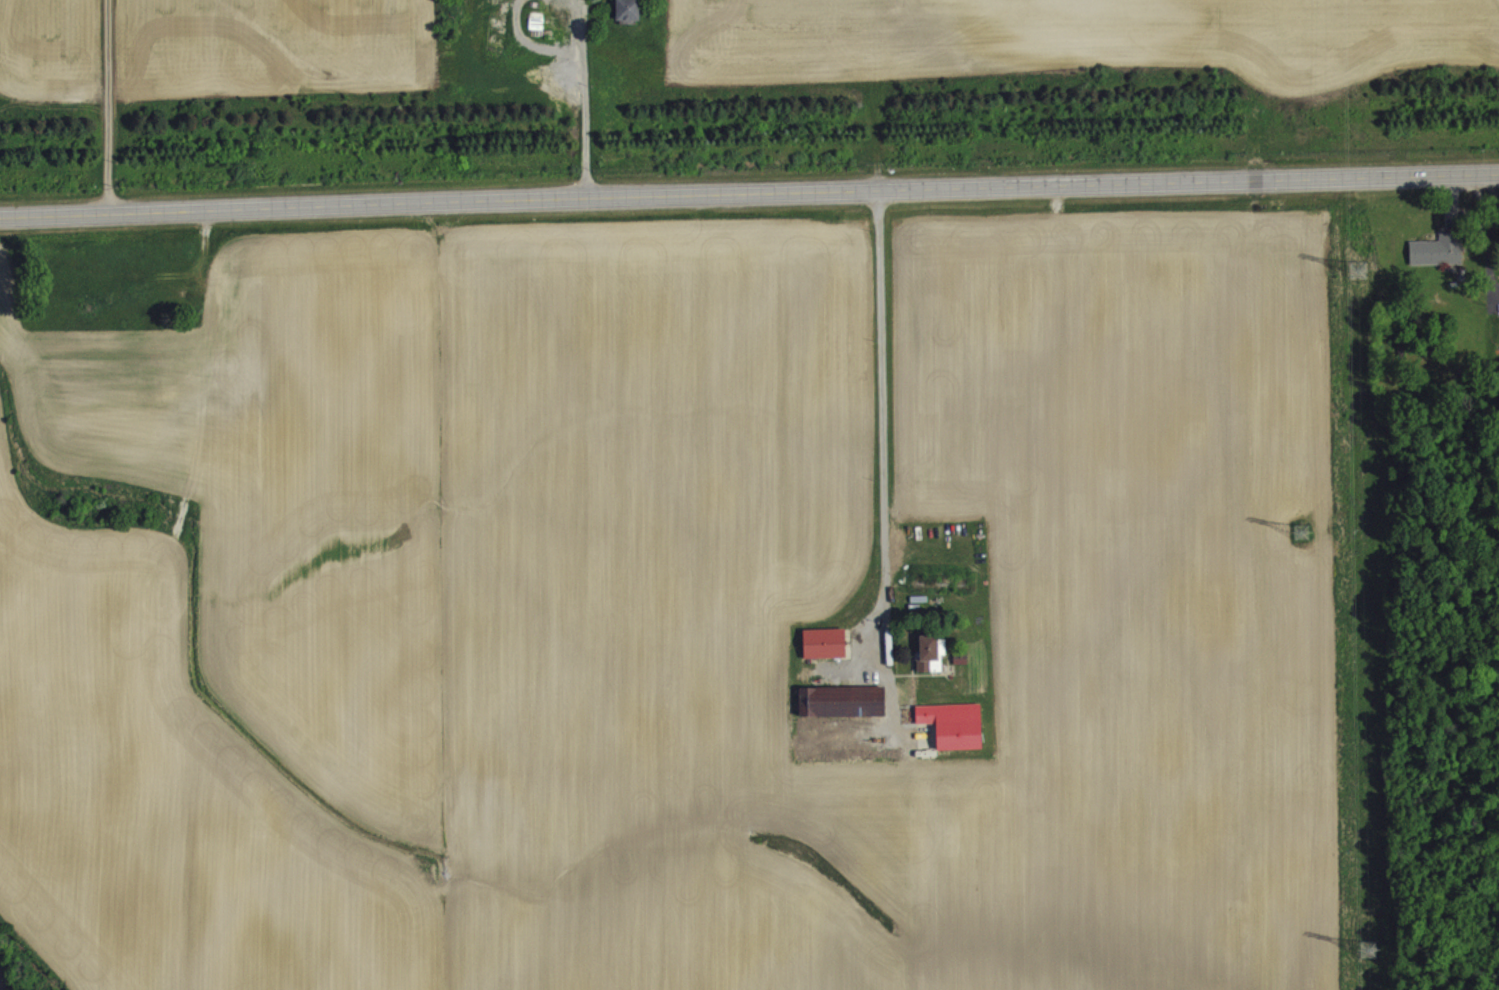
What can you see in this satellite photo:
building: (506, 1)
building: (629, 19)
road: (586, 98)
road: (108, 106)
road: (749, 195)
building: (1438, 261)
power tower: (1364, 265)
road: (883, 422)
power tower: (1307, 529)
building: (825, 654)
building: (929, 663)
building: (941, 668)
building: (961, 669)
building: (843, 712)
building: (955, 736)
building: (927, 746)
power tower: (1372, 945)

